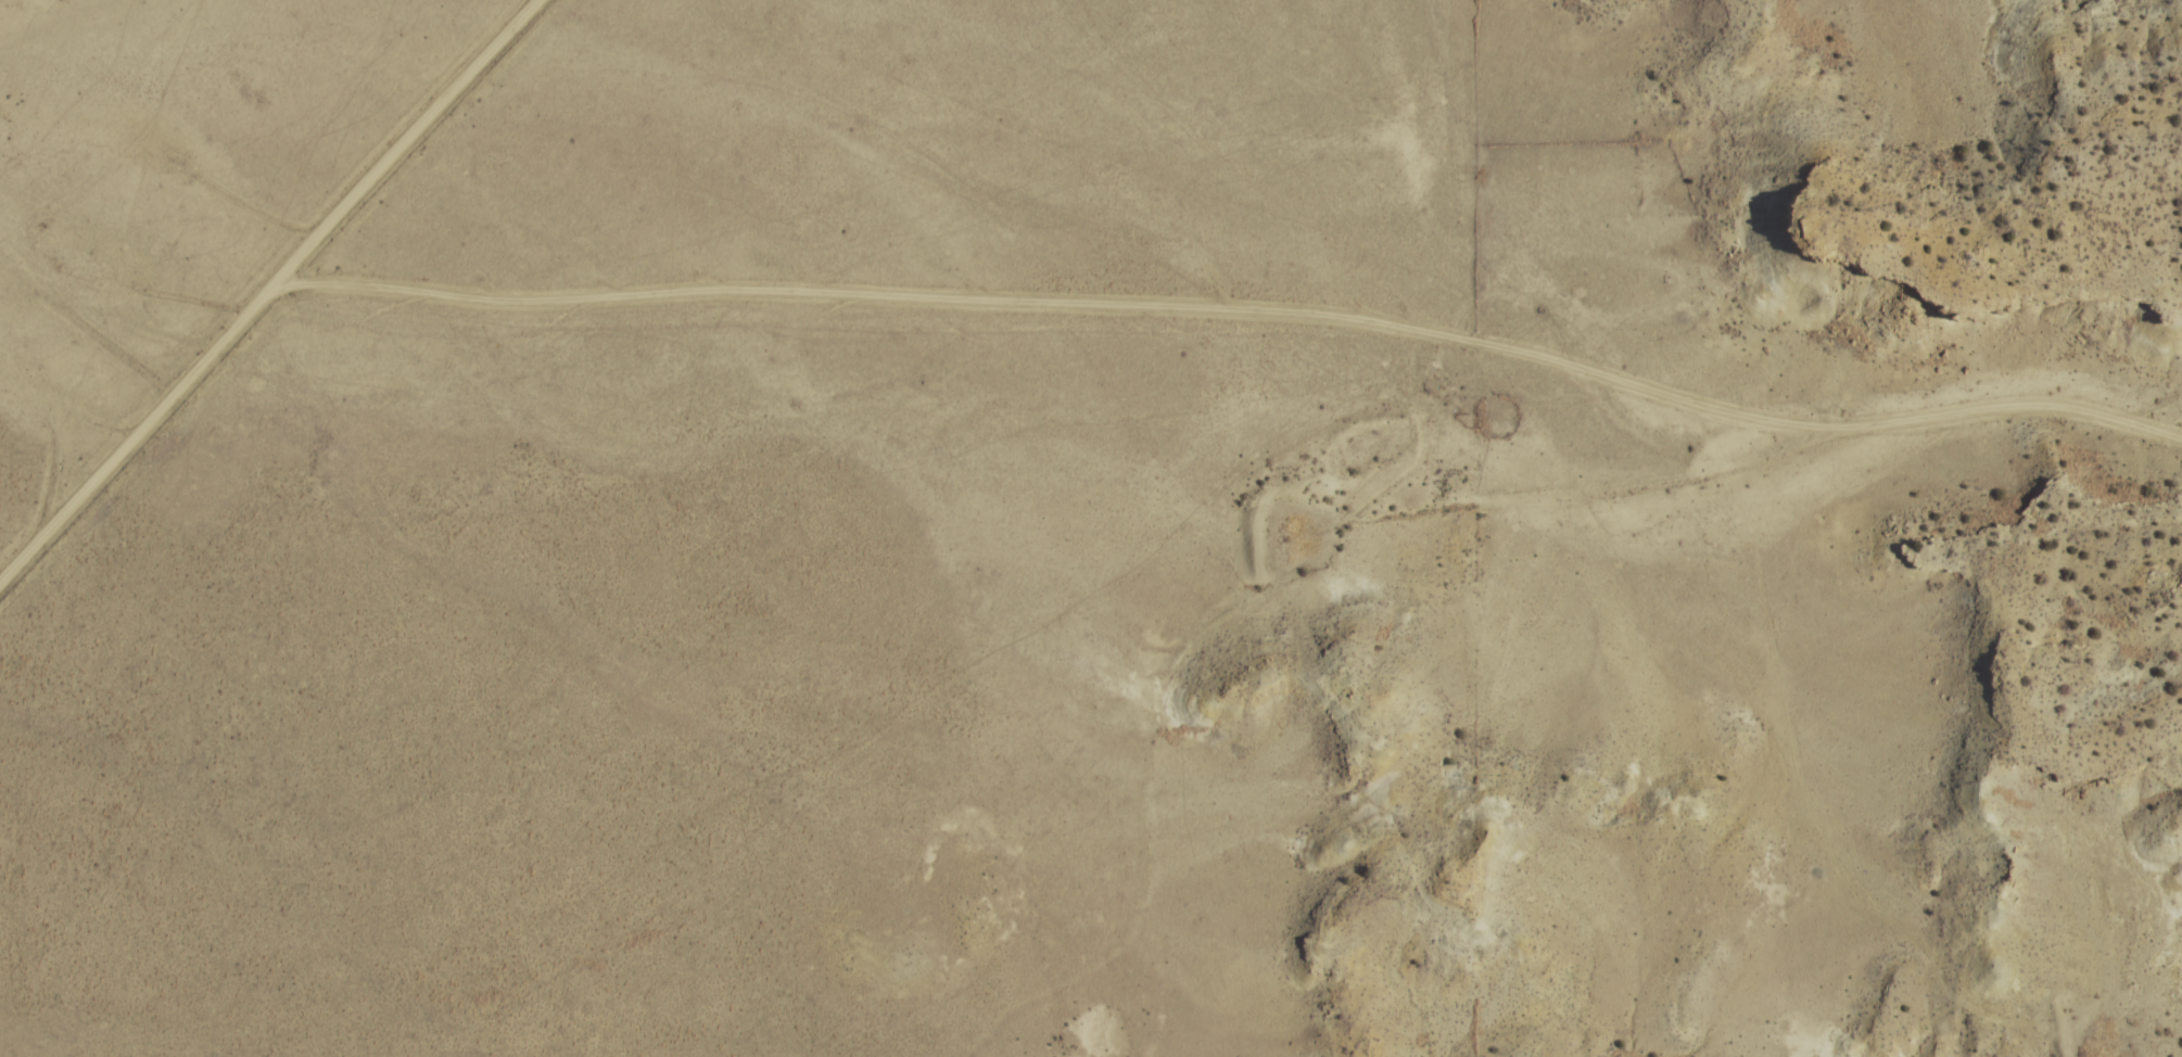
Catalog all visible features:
road: (266, 290)
road: (1235, 301)

